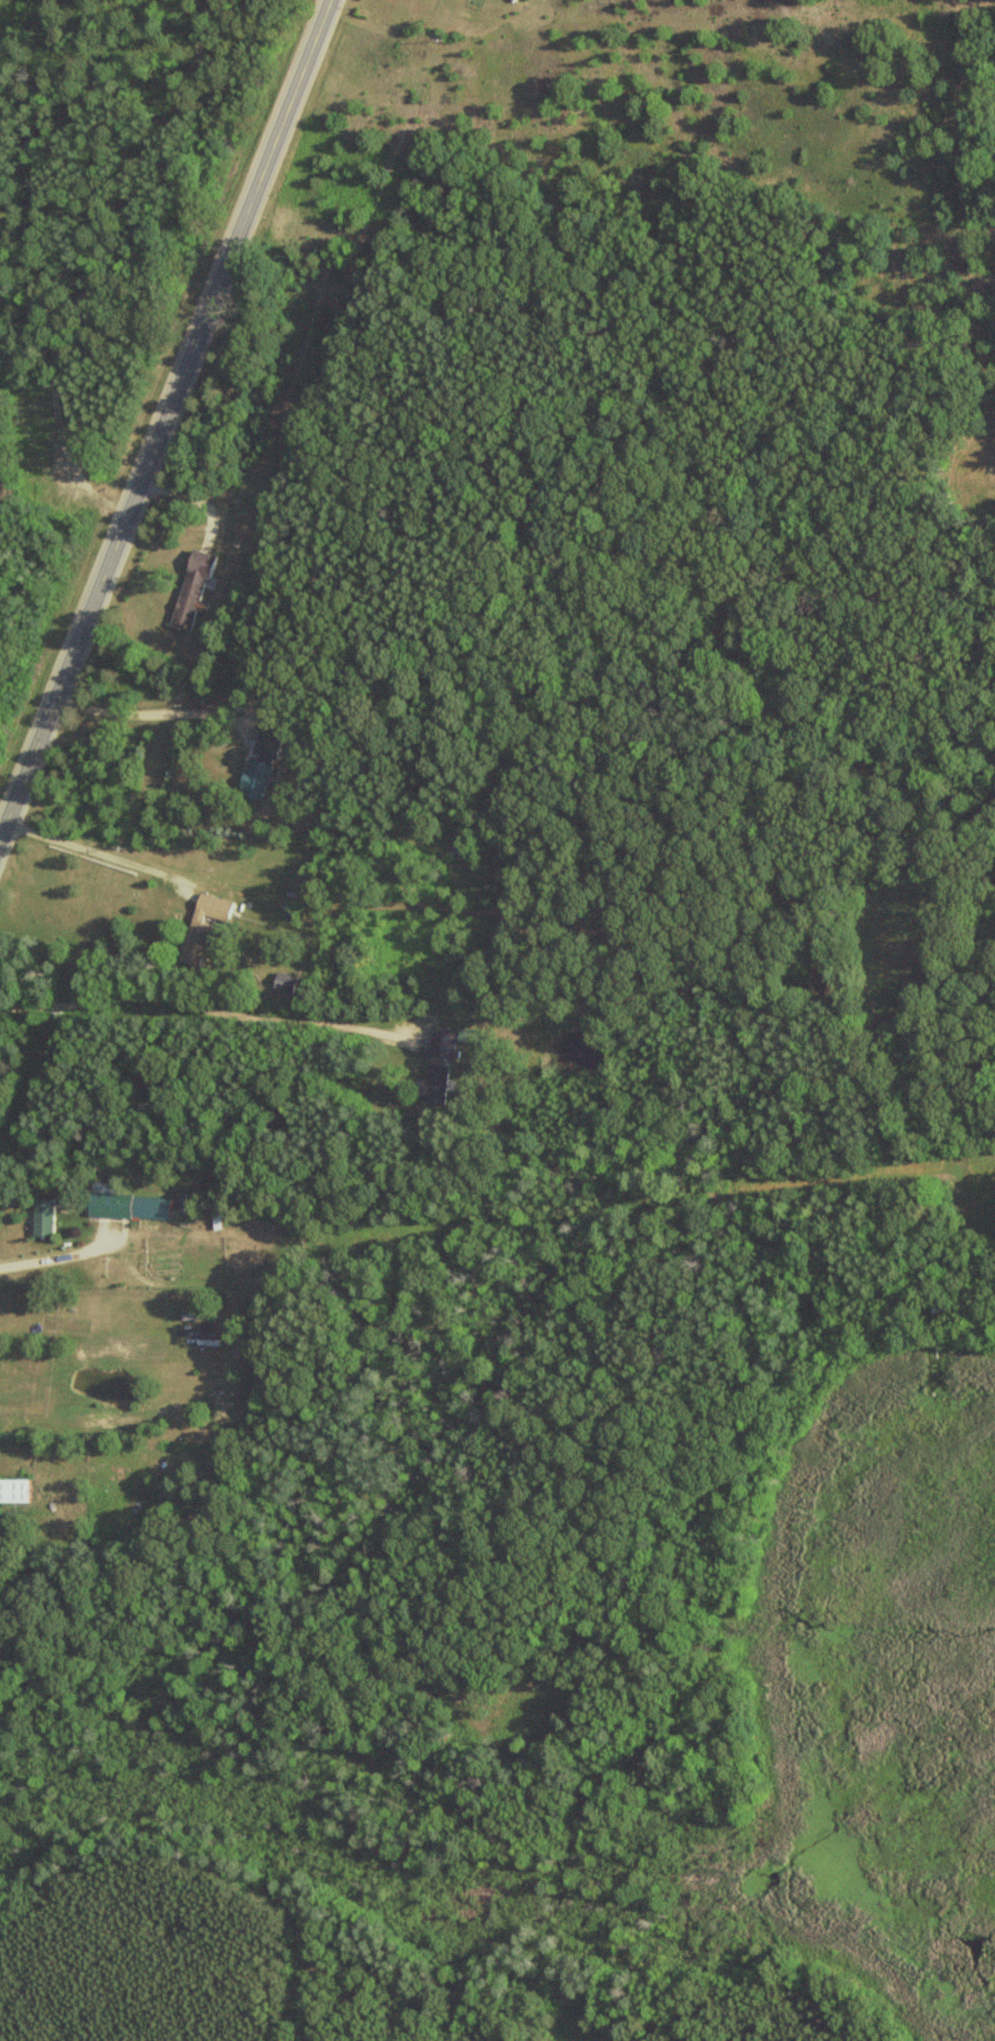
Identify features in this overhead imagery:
road: (976, 59)
road: (162, 391)
building: (189, 590)
road: (133, 712)
building: (253, 780)
road: (569, 924)
building: (204, 929)
building: (283, 984)
road: (194, 1009)
building: (441, 1043)
building: (437, 1085)
building: (126, 1205)
building: (40, 1218)
road: (47, 1261)
building: (12, 1491)

